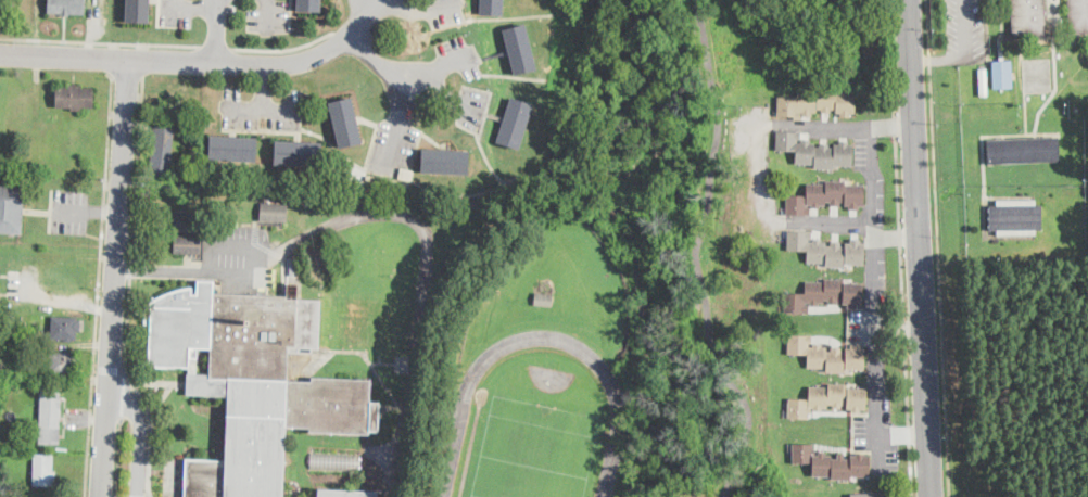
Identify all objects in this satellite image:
building: (309, 4)
road: (190, 5)
building: (66, 7)
building: (492, 8)
road: (418, 9)
building: (138, 11)
road: (268, 14)
building: (1078, 15)
building: (1028, 16)
road: (963, 28)
parking lot: (964, 29)
road: (217, 30)
road: (99, 41)
road: (214, 46)
road: (283, 49)
building: (520, 50)
road: (110, 58)
road: (937, 58)
road: (142, 59)
road: (201, 61)
road: (379, 61)
road: (438, 66)
building: (1001, 73)
road: (126, 74)
building: (983, 81)
road: (265, 86)
road: (438, 90)
building: (74, 95)
building: (818, 102)
road: (469, 105)
road: (264, 107)
building: (344, 123)
building: (515, 124)
building: (179, 125)
road: (395, 127)
building: (193, 139)
building: (163, 149)
building: (232, 149)
building: (1022, 151)
building: (815, 152)
building: (299, 154)
building: (444, 162)
road: (137, 167)
building: (331, 175)
road: (874, 177)
building: (354, 183)
building: (825, 196)
building: (11, 209)
road: (72, 209)
building: (239, 211)
road: (104, 212)
building: (274, 213)
building: (1015, 217)
building: (188, 222)
road: (813, 224)
road: (896, 235)
building: (187, 245)
road: (899, 248)
road: (919, 248)
road: (938, 248)
building: (826, 251)
road: (697, 253)
road: (130, 268)
road: (181, 269)
building: (0, 271)
road: (116, 277)
road: (98, 282)
building: (824, 294)
road: (64, 300)
building: (545, 300)
building: (65, 328)
building: (827, 355)
building: (64, 362)
road: (107, 368)
building: (252, 381)
road: (134, 386)
road: (123, 394)
building: (828, 399)
building: (50, 417)
road: (903, 435)
road: (138, 436)
road: (118, 457)
building: (336, 461)
building: (832, 463)
building: (43, 470)
building: (345, 494)
building: (870, 495)

